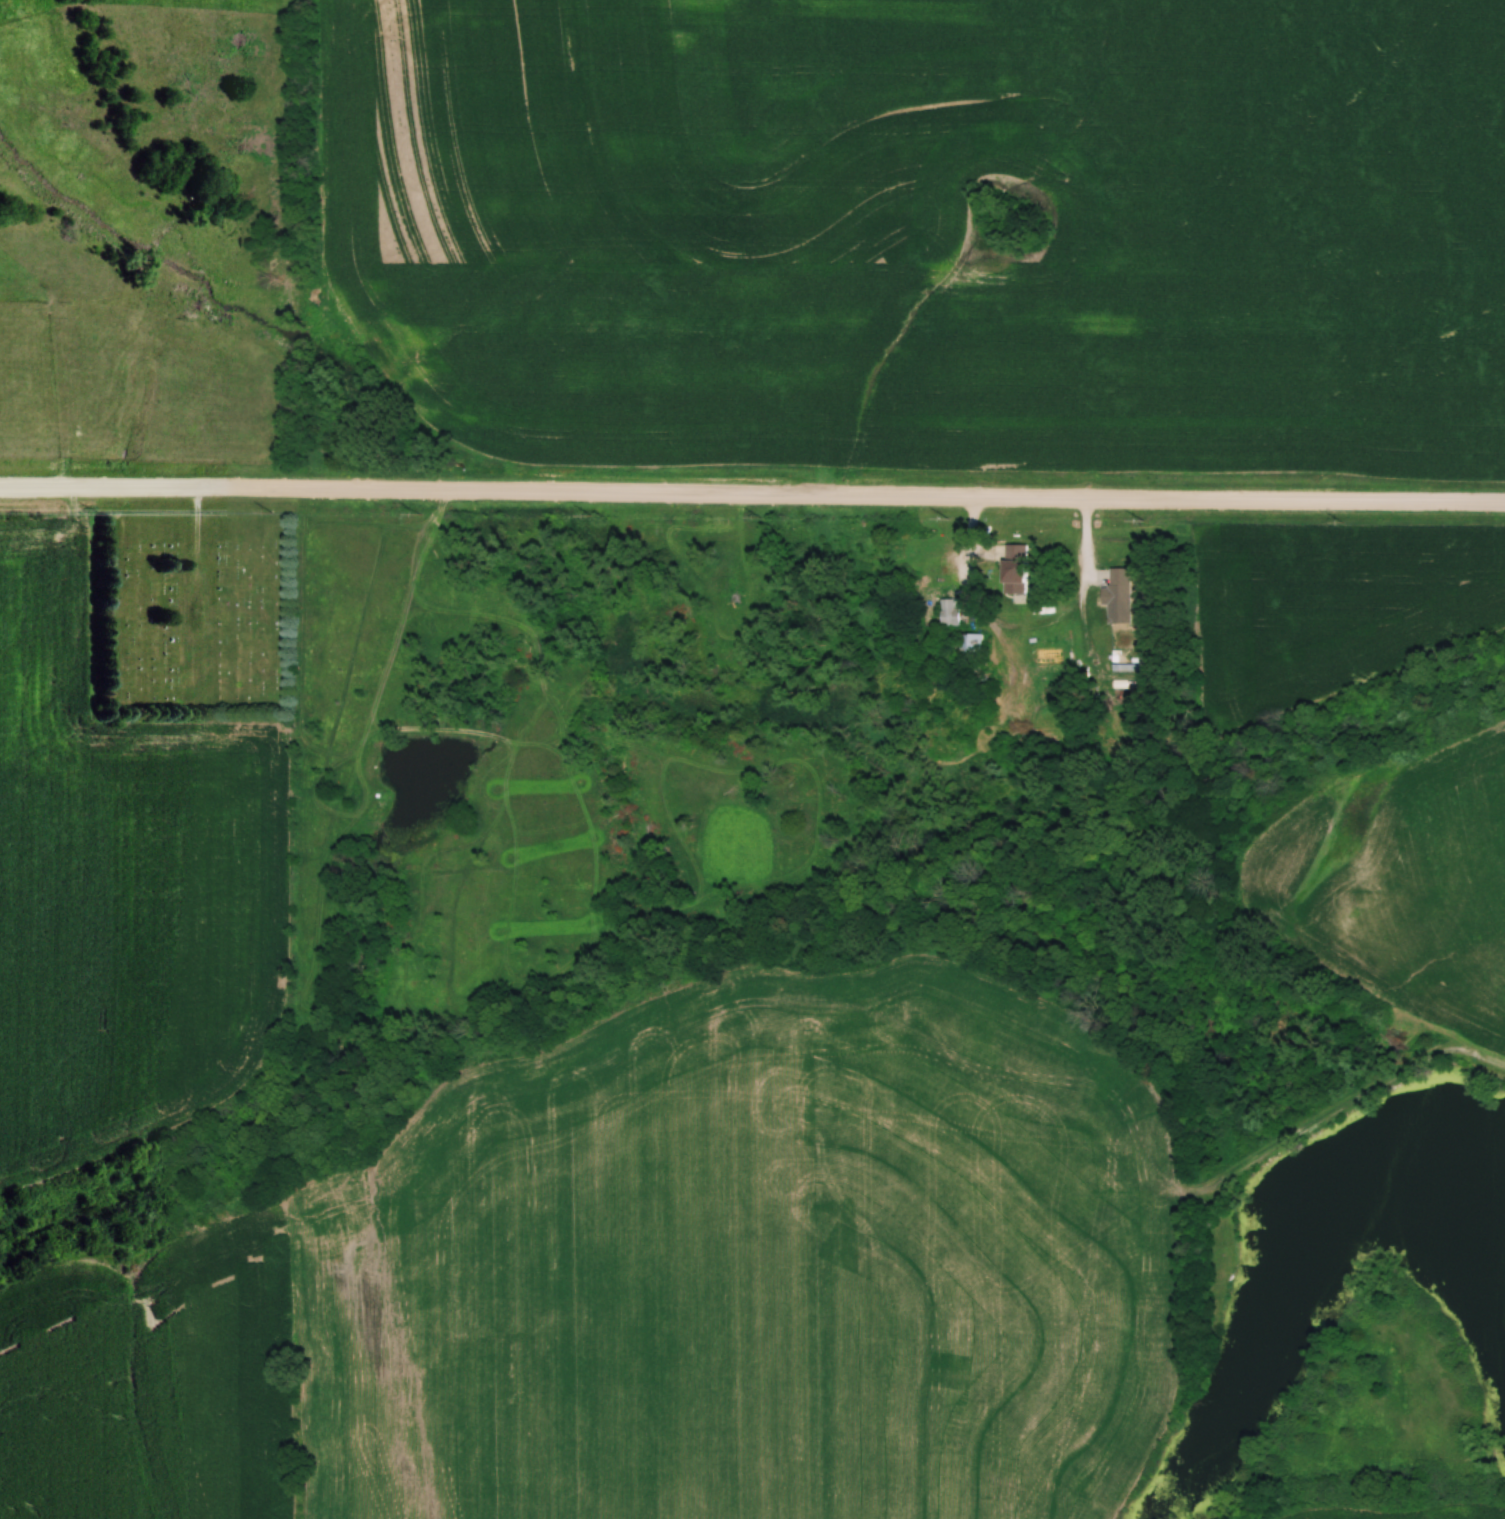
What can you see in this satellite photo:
road: (752, 497)
road: (198, 527)
building: (1017, 568)
building: (1119, 596)
crop: (1334, 607)
park: (193, 609)
building: (949, 614)
building: (971, 642)
building: (1124, 668)
crop: (122, 888)
crop: (1460, 1510)

